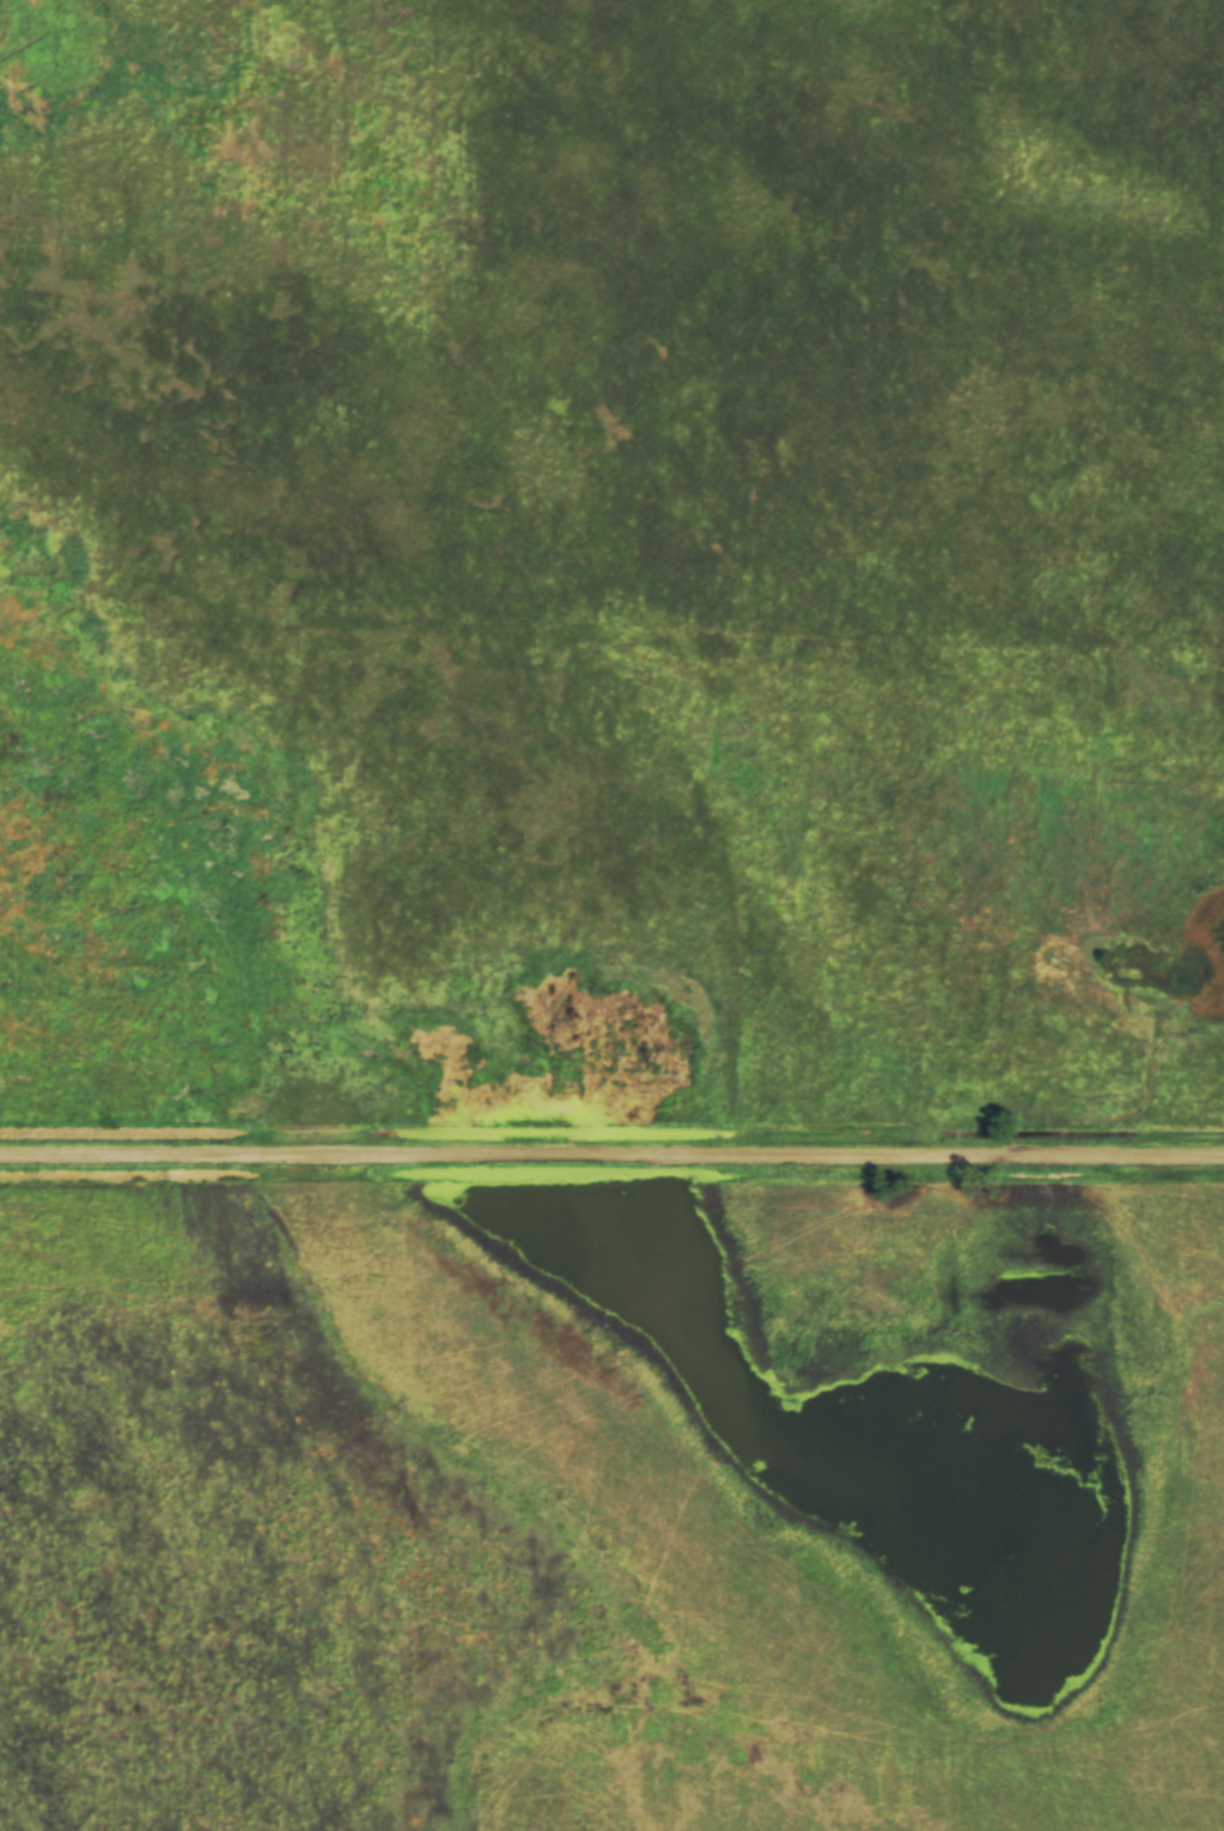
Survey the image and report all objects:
road: (611, 1160)

